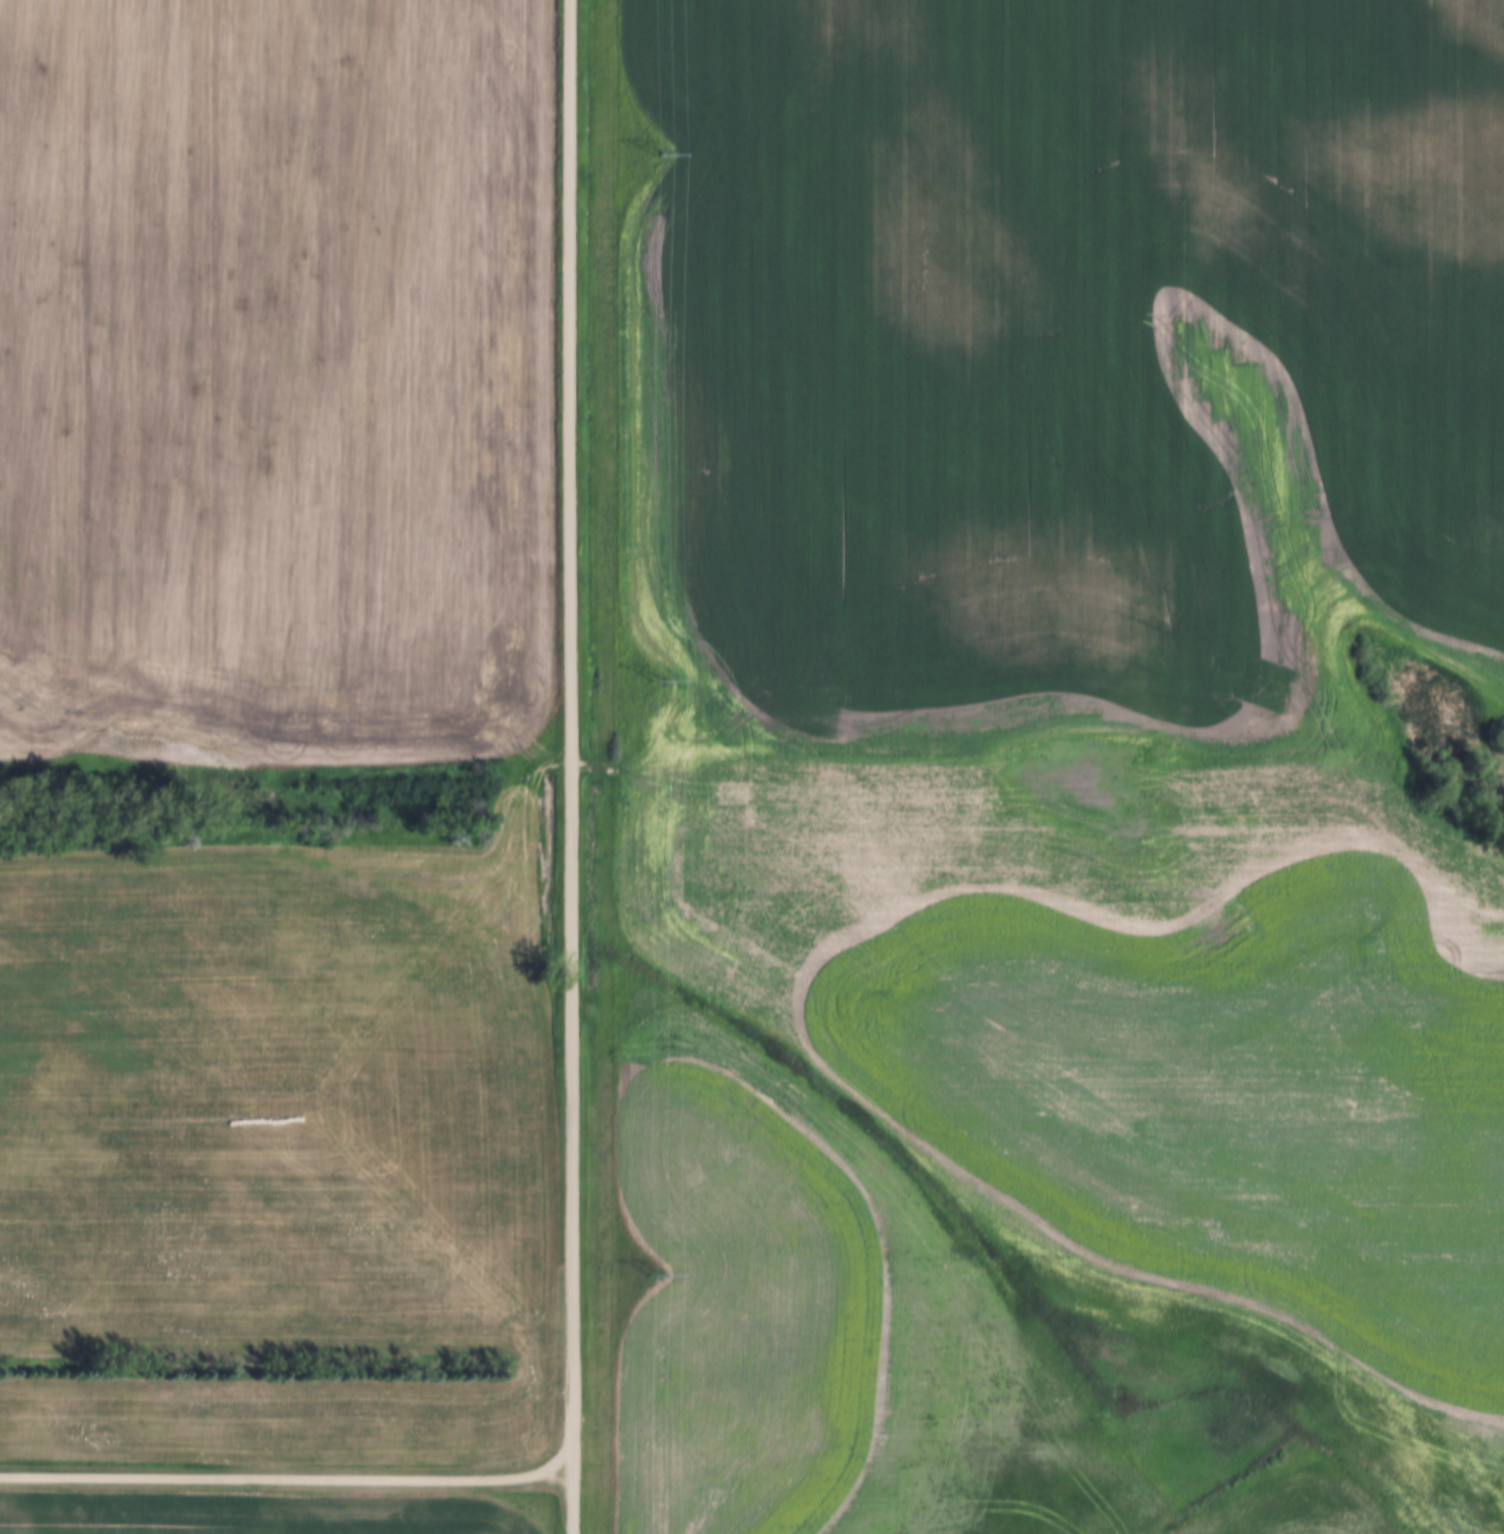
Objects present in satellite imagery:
power tower: (657, 156)
power tower: (656, 683)
road: (572, 766)
power tower: (655, 1277)
road: (287, 1479)

